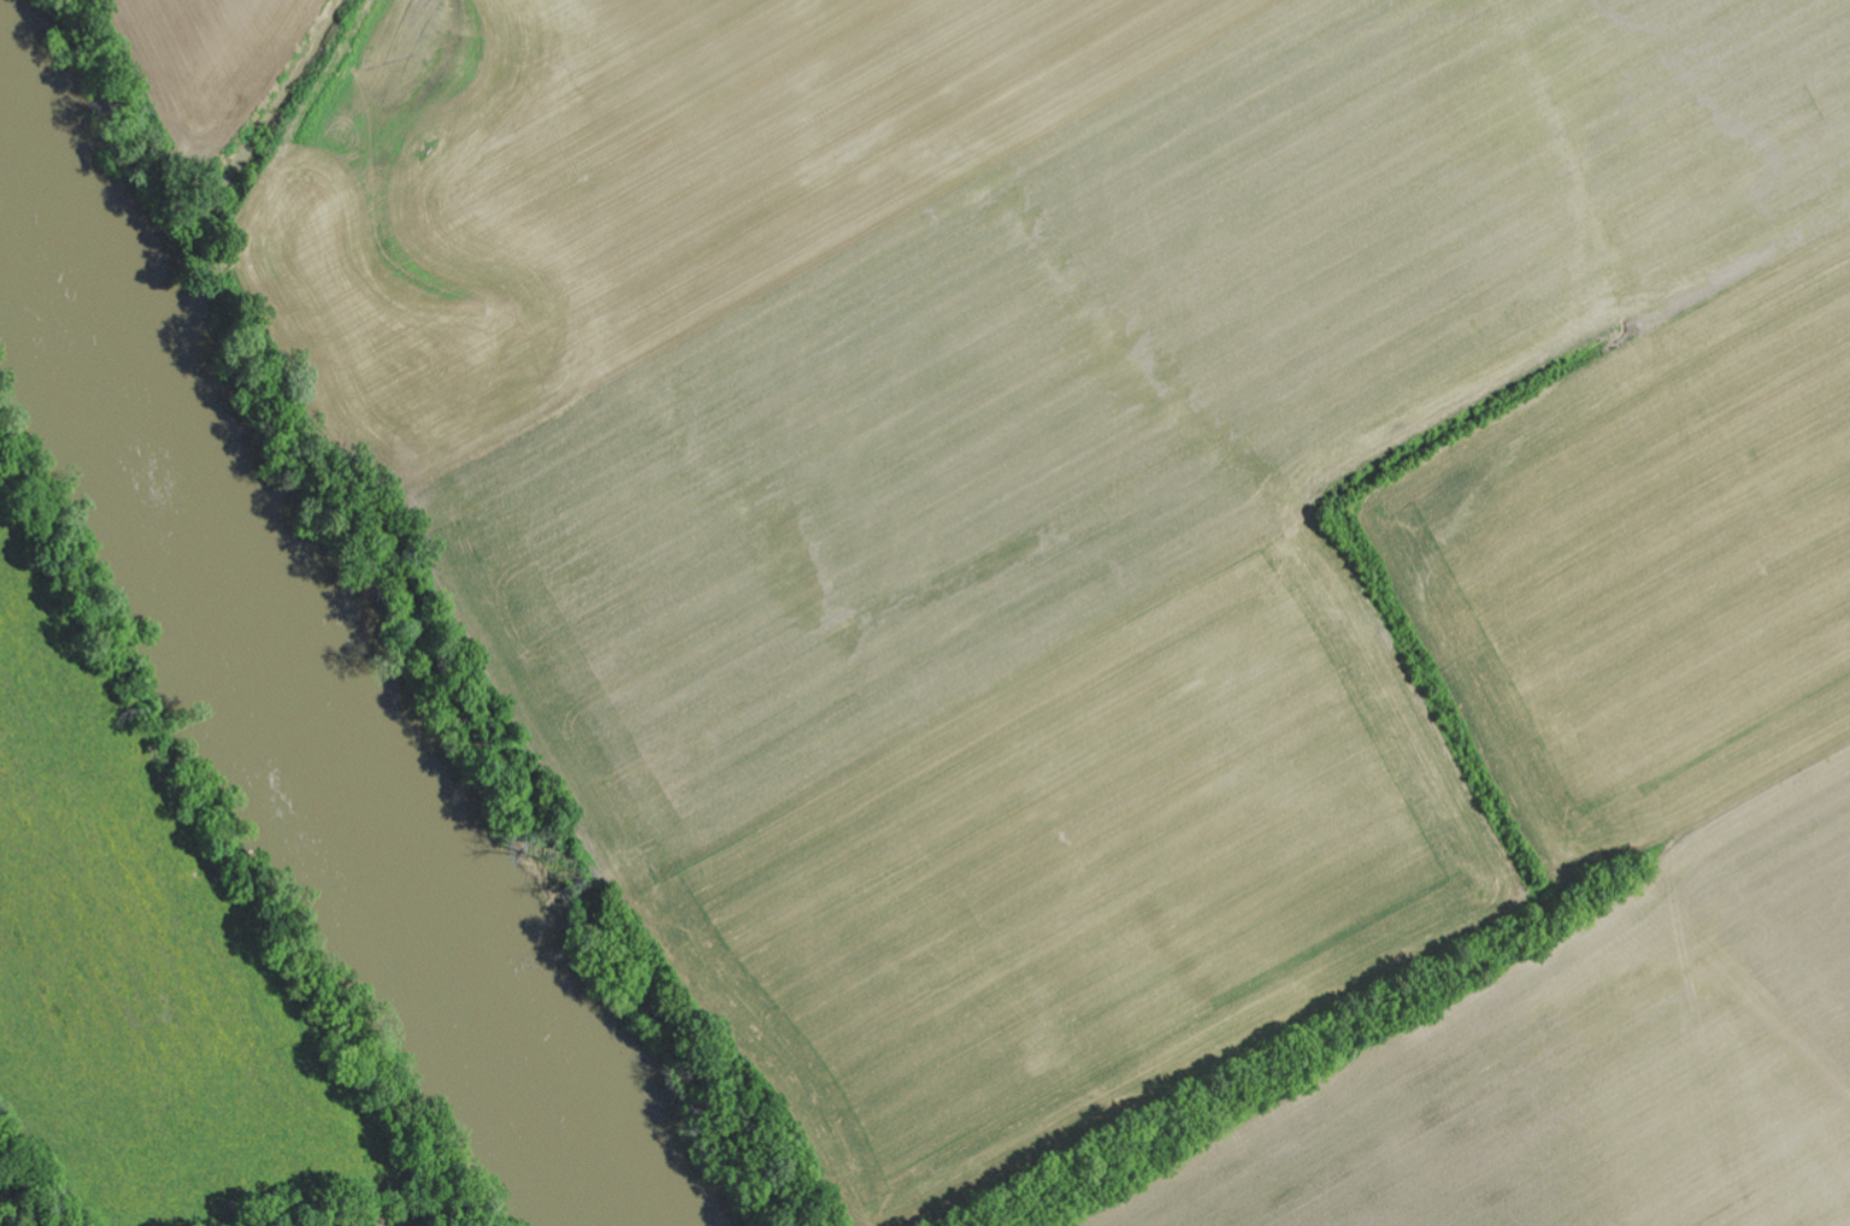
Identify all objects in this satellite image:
river: (275, 699)

